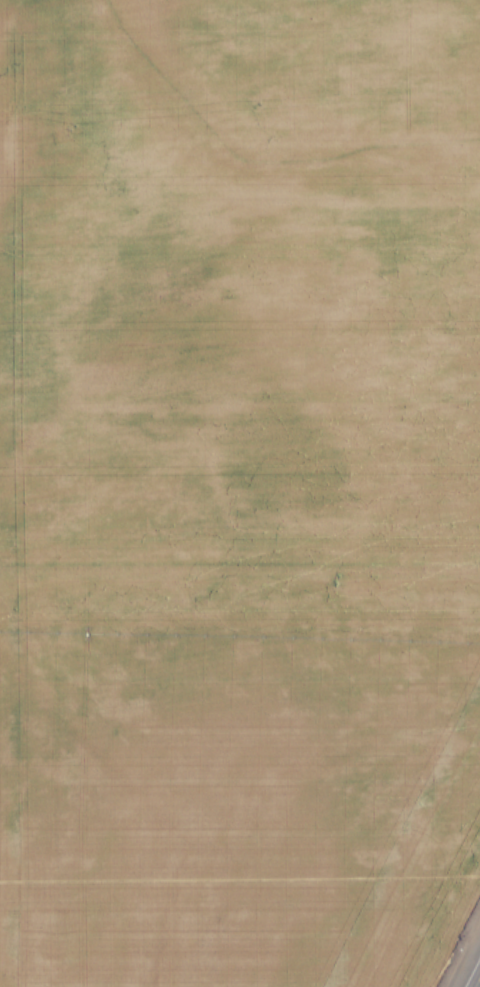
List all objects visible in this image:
road: (476, 980)

